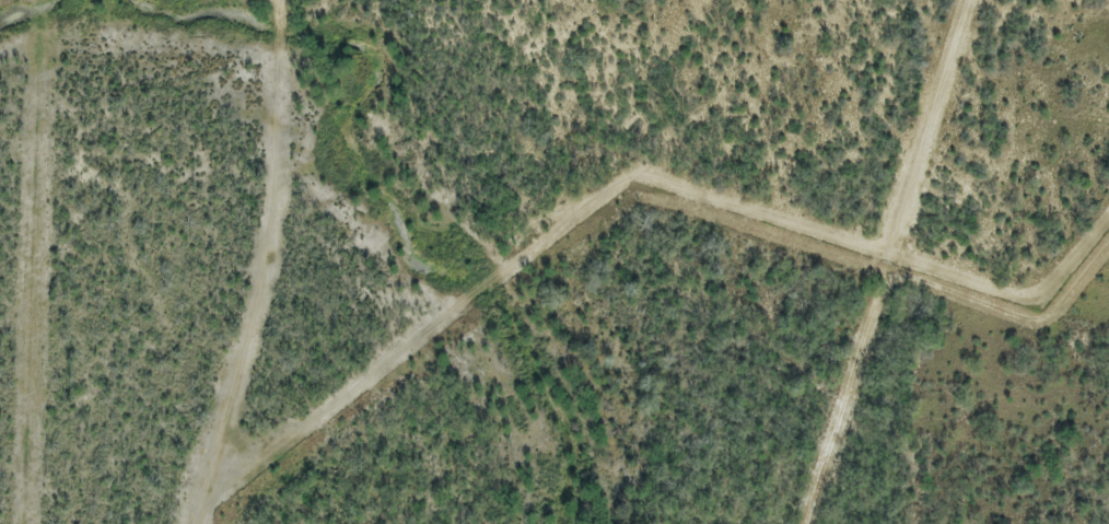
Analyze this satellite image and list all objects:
road: (614, 186)

